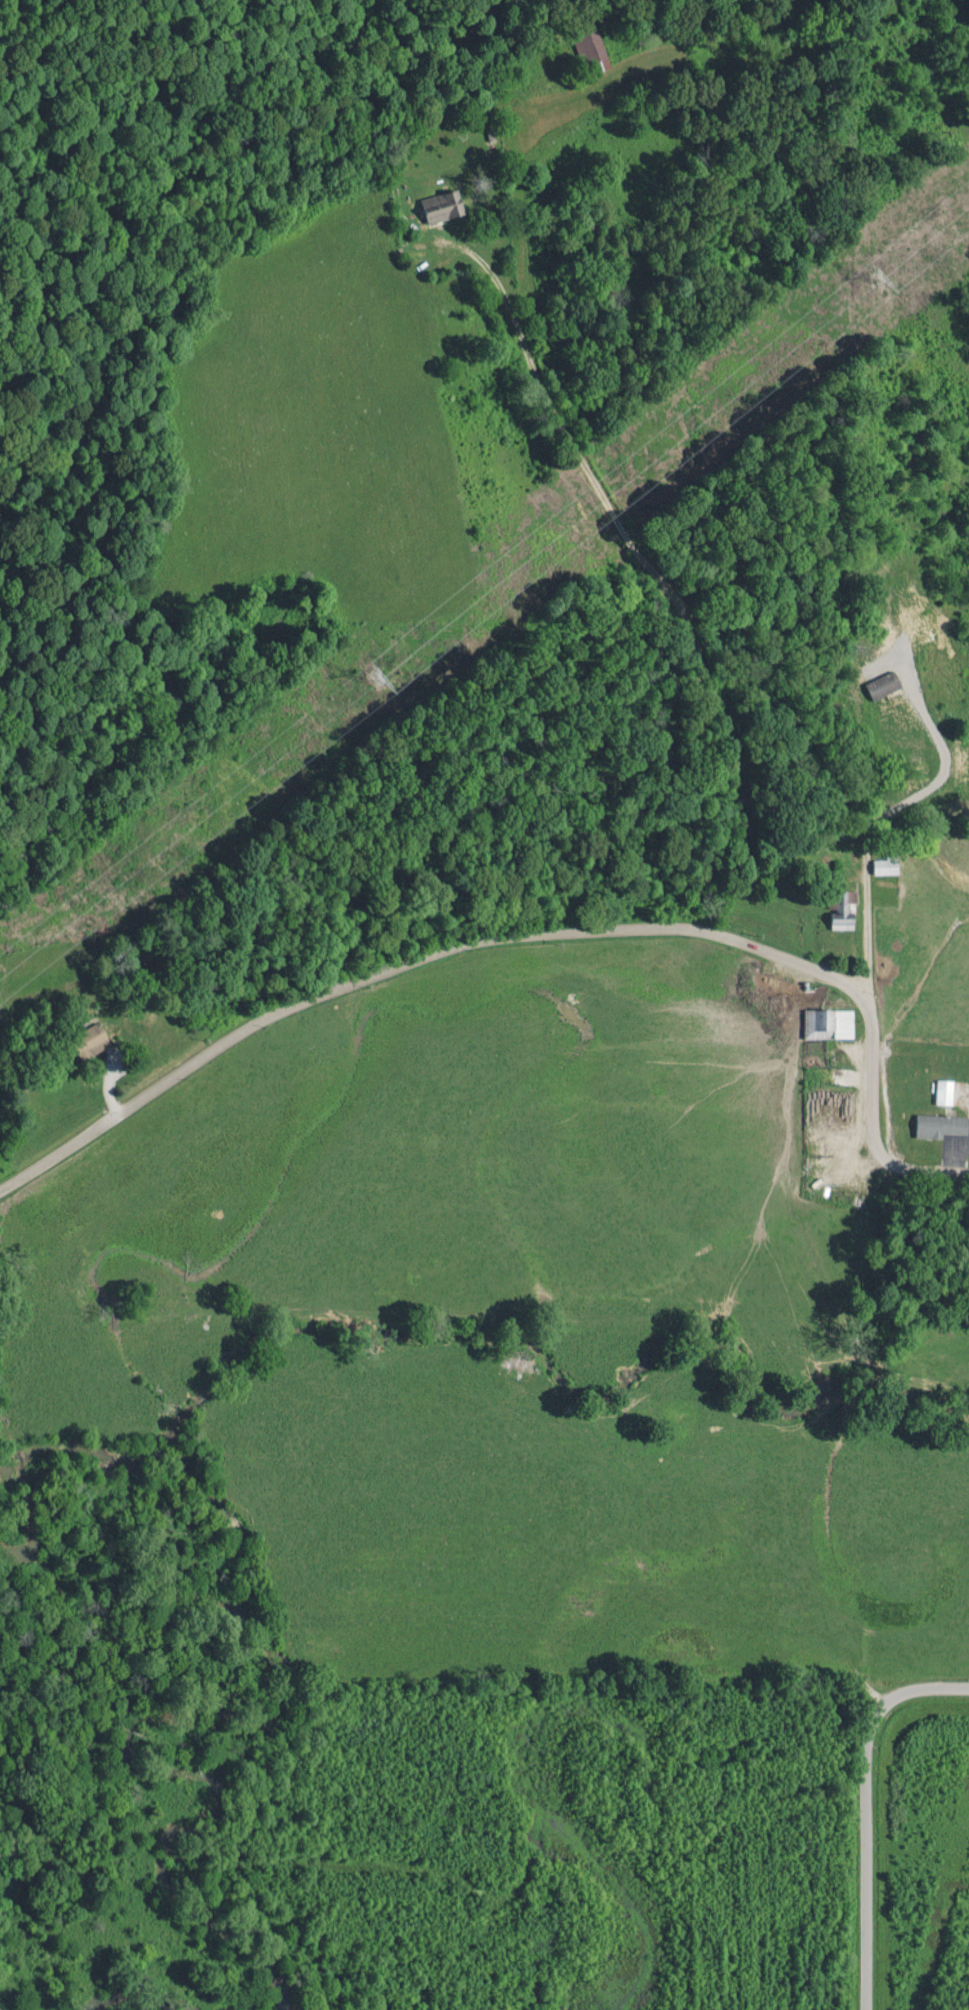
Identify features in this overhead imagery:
building: (445, 206)
power tower: (877, 276)
road: (683, 639)
power tower: (374, 678)
building: (885, 683)
building: (888, 863)
building: (843, 918)
road: (410, 961)
building: (92, 1041)
building: (946, 1091)
road: (870, 1121)
building: (941, 1124)
road: (862, 1806)

